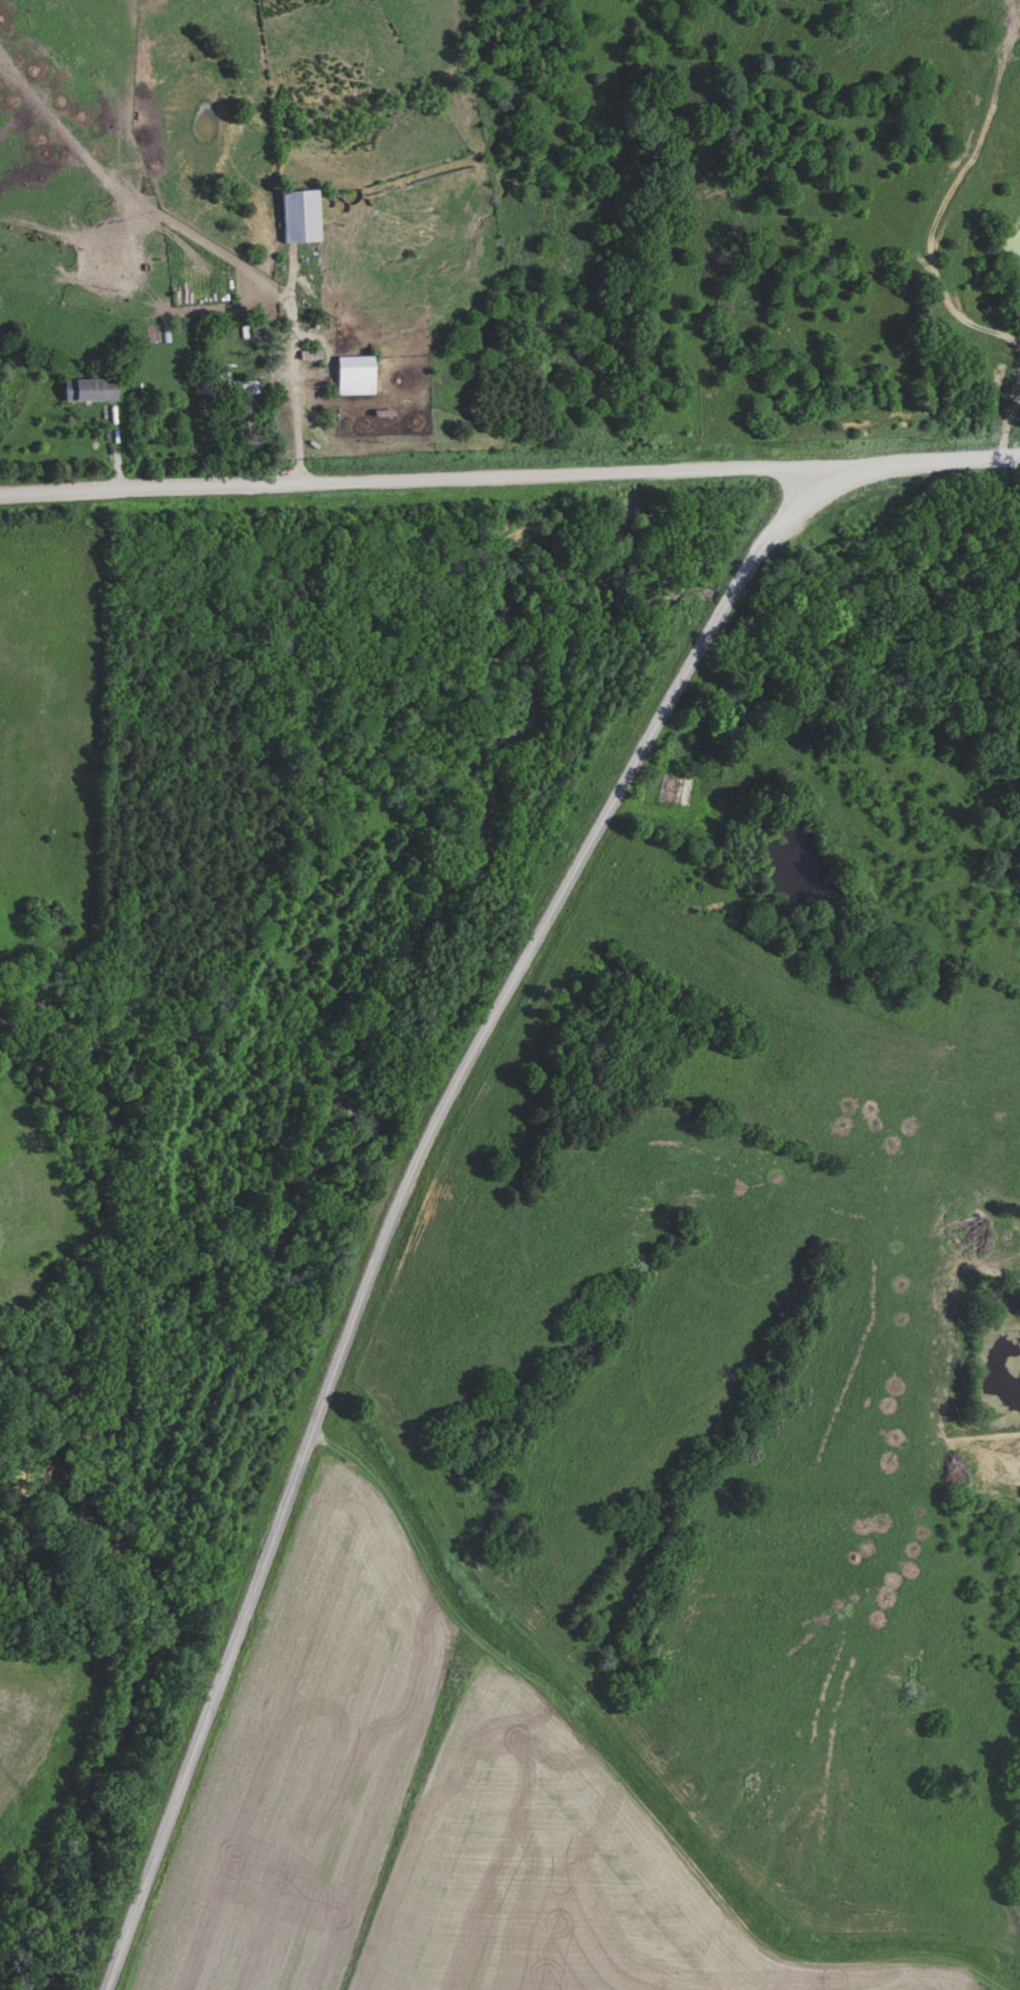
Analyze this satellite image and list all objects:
building: (293, 213)
building: (346, 373)
building: (233, 384)
building: (94, 388)
road: (509, 473)
building: (665, 786)
road: (403, 1191)

